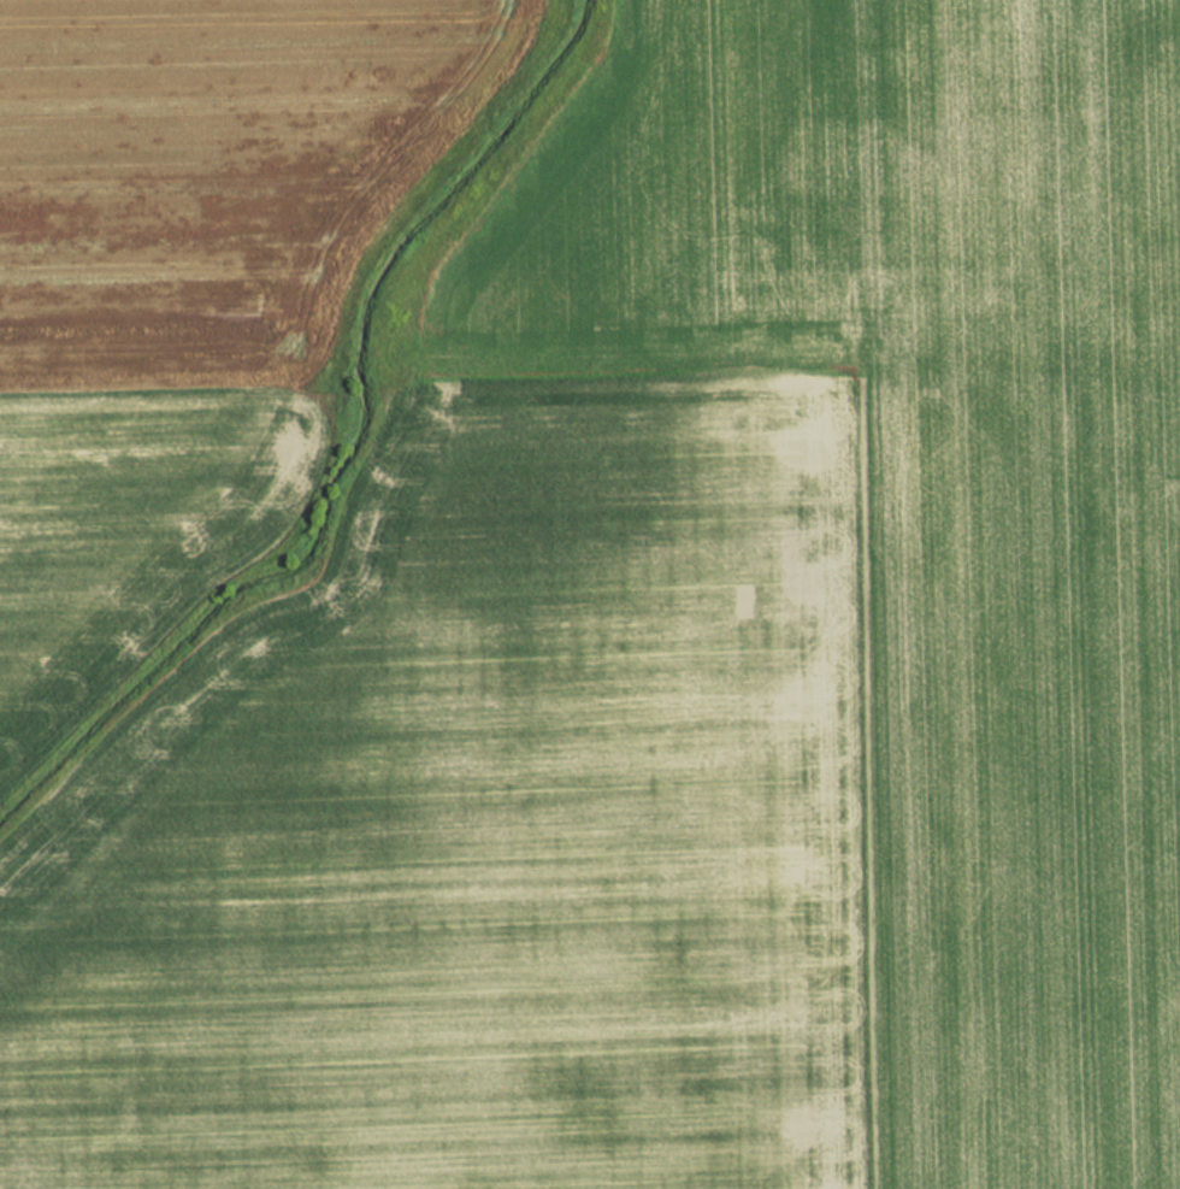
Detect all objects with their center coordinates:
crop: (184, 292)
crop: (931, 489)
crop: (485, 830)

